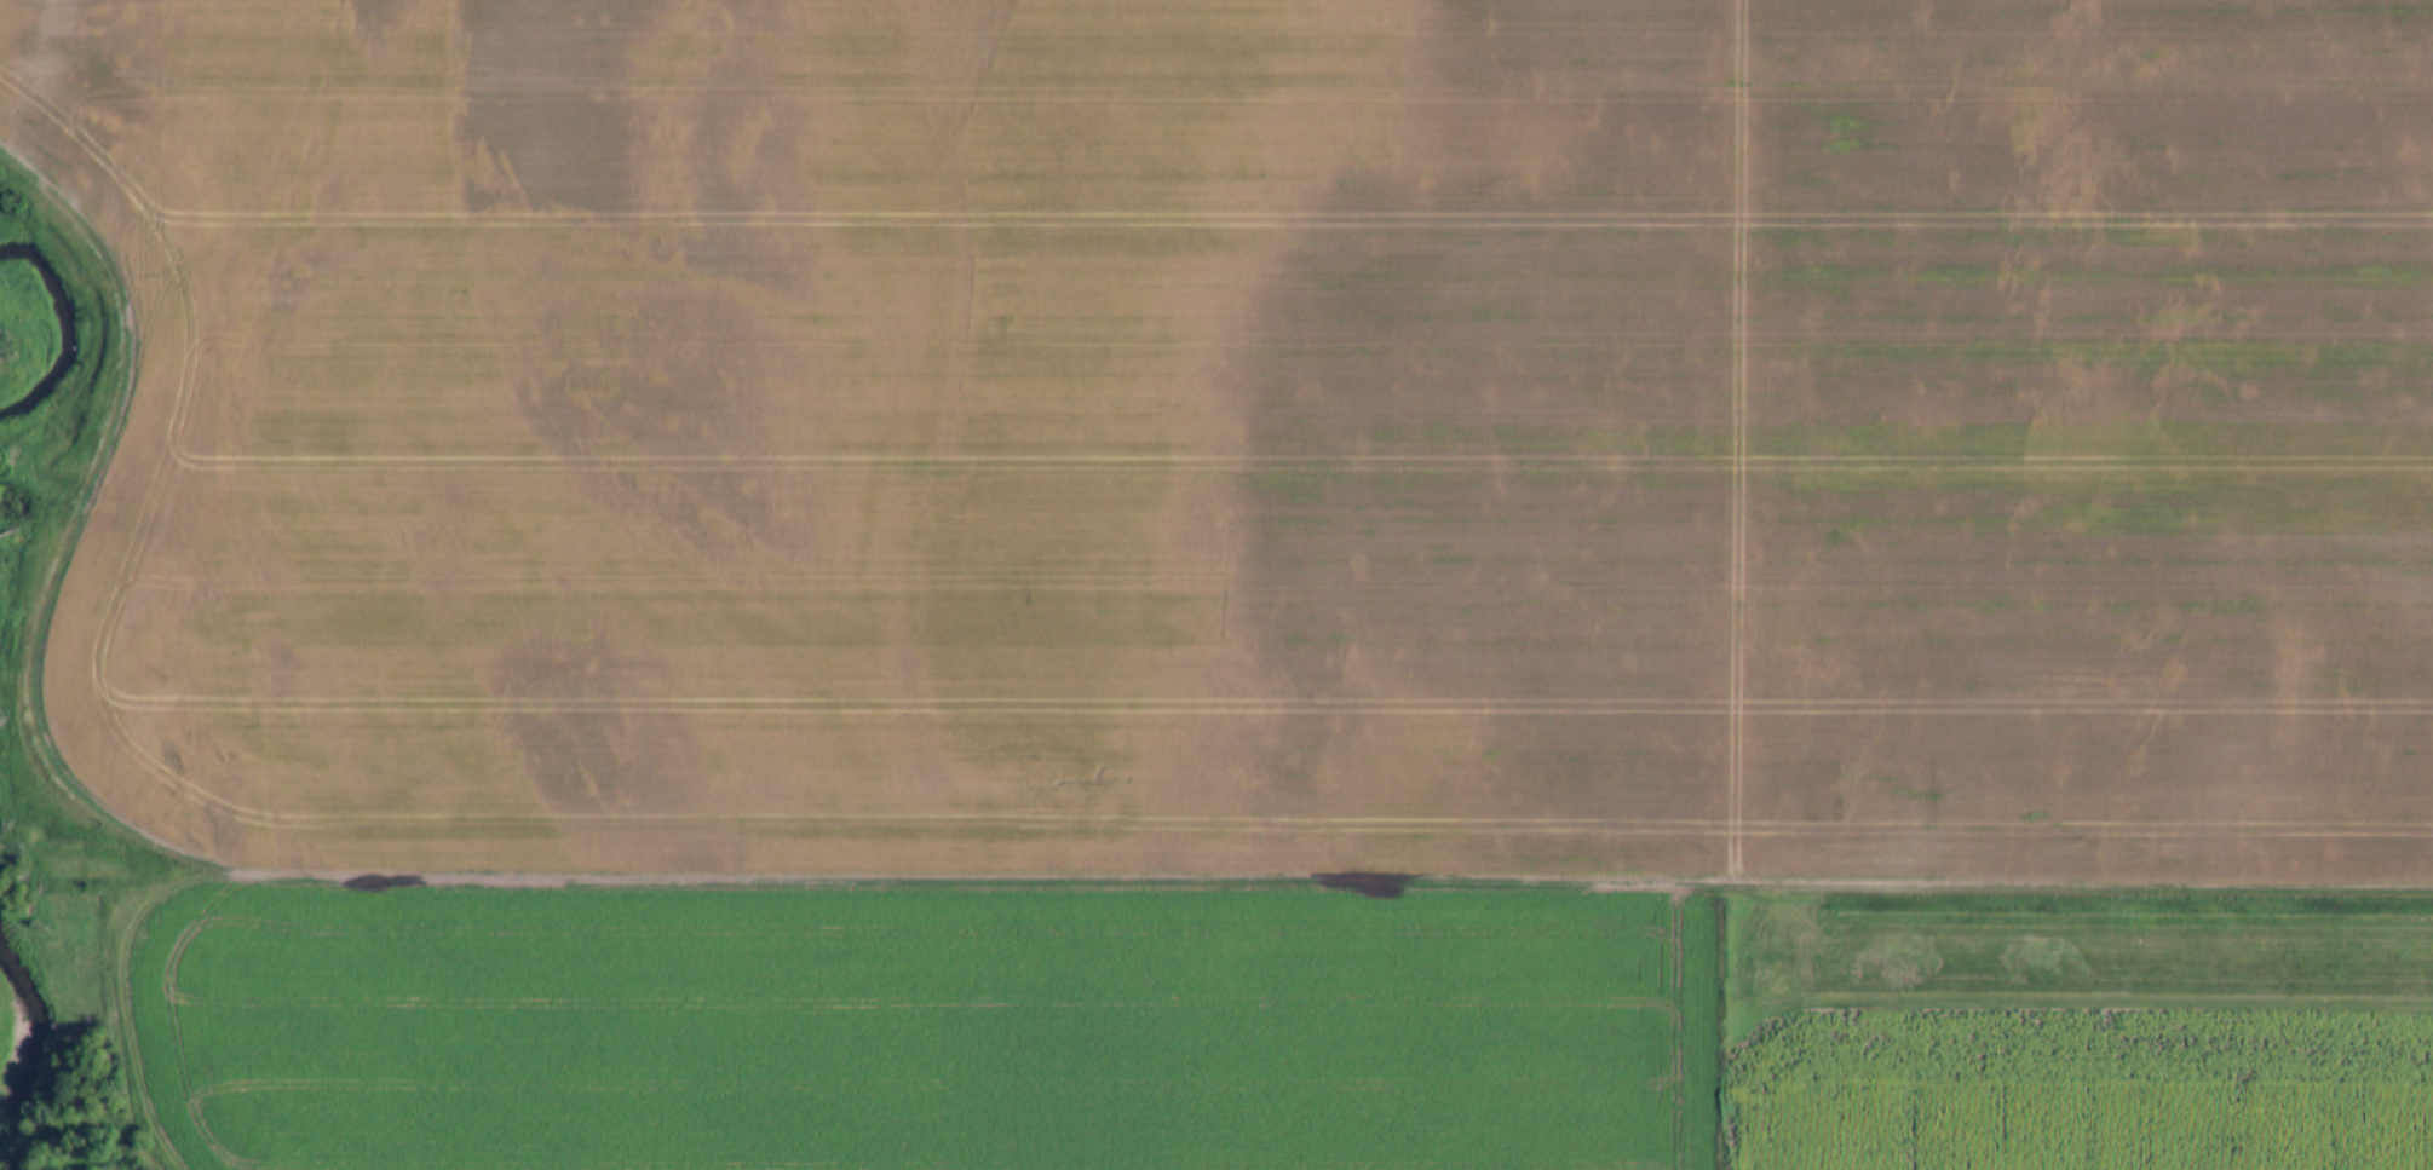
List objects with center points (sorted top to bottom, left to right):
road: (1752, 444)
road: (1248, 893)
airport runway: (2099, 950)
airport: (2078, 952)

